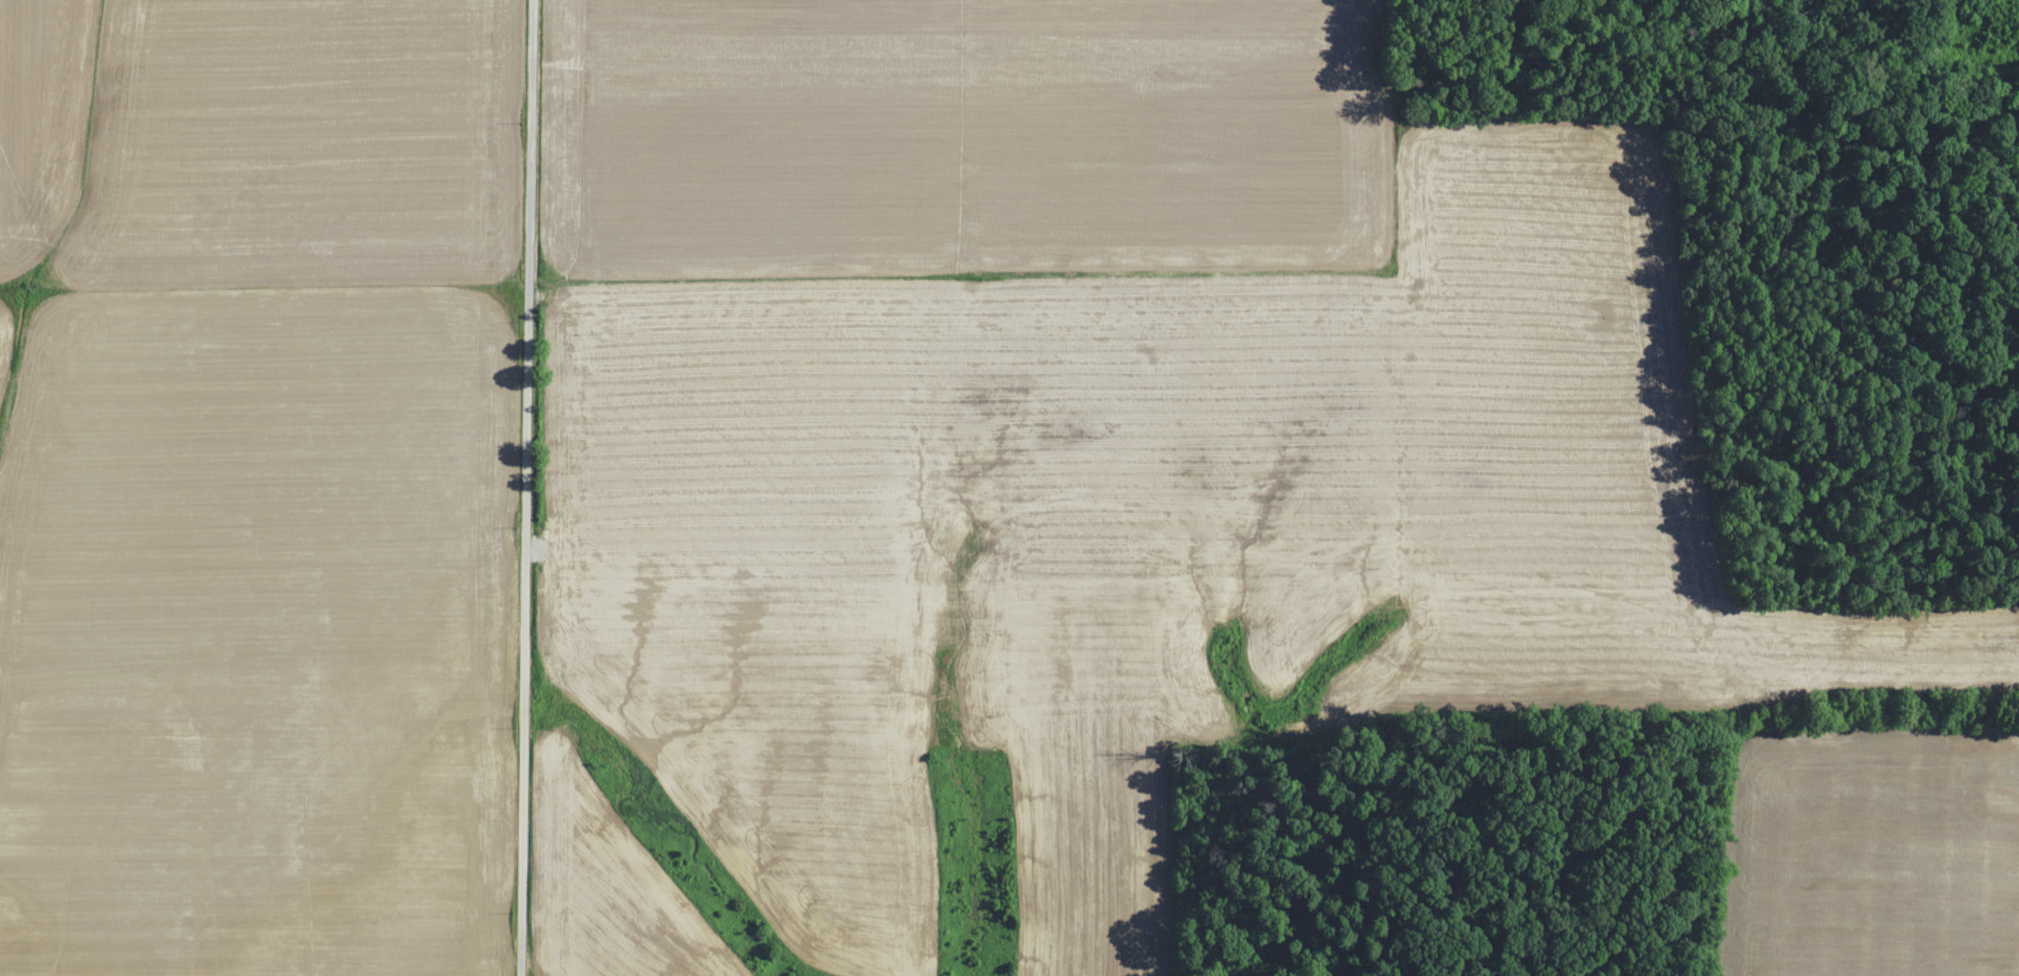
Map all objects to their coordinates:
road: (524, 487)

